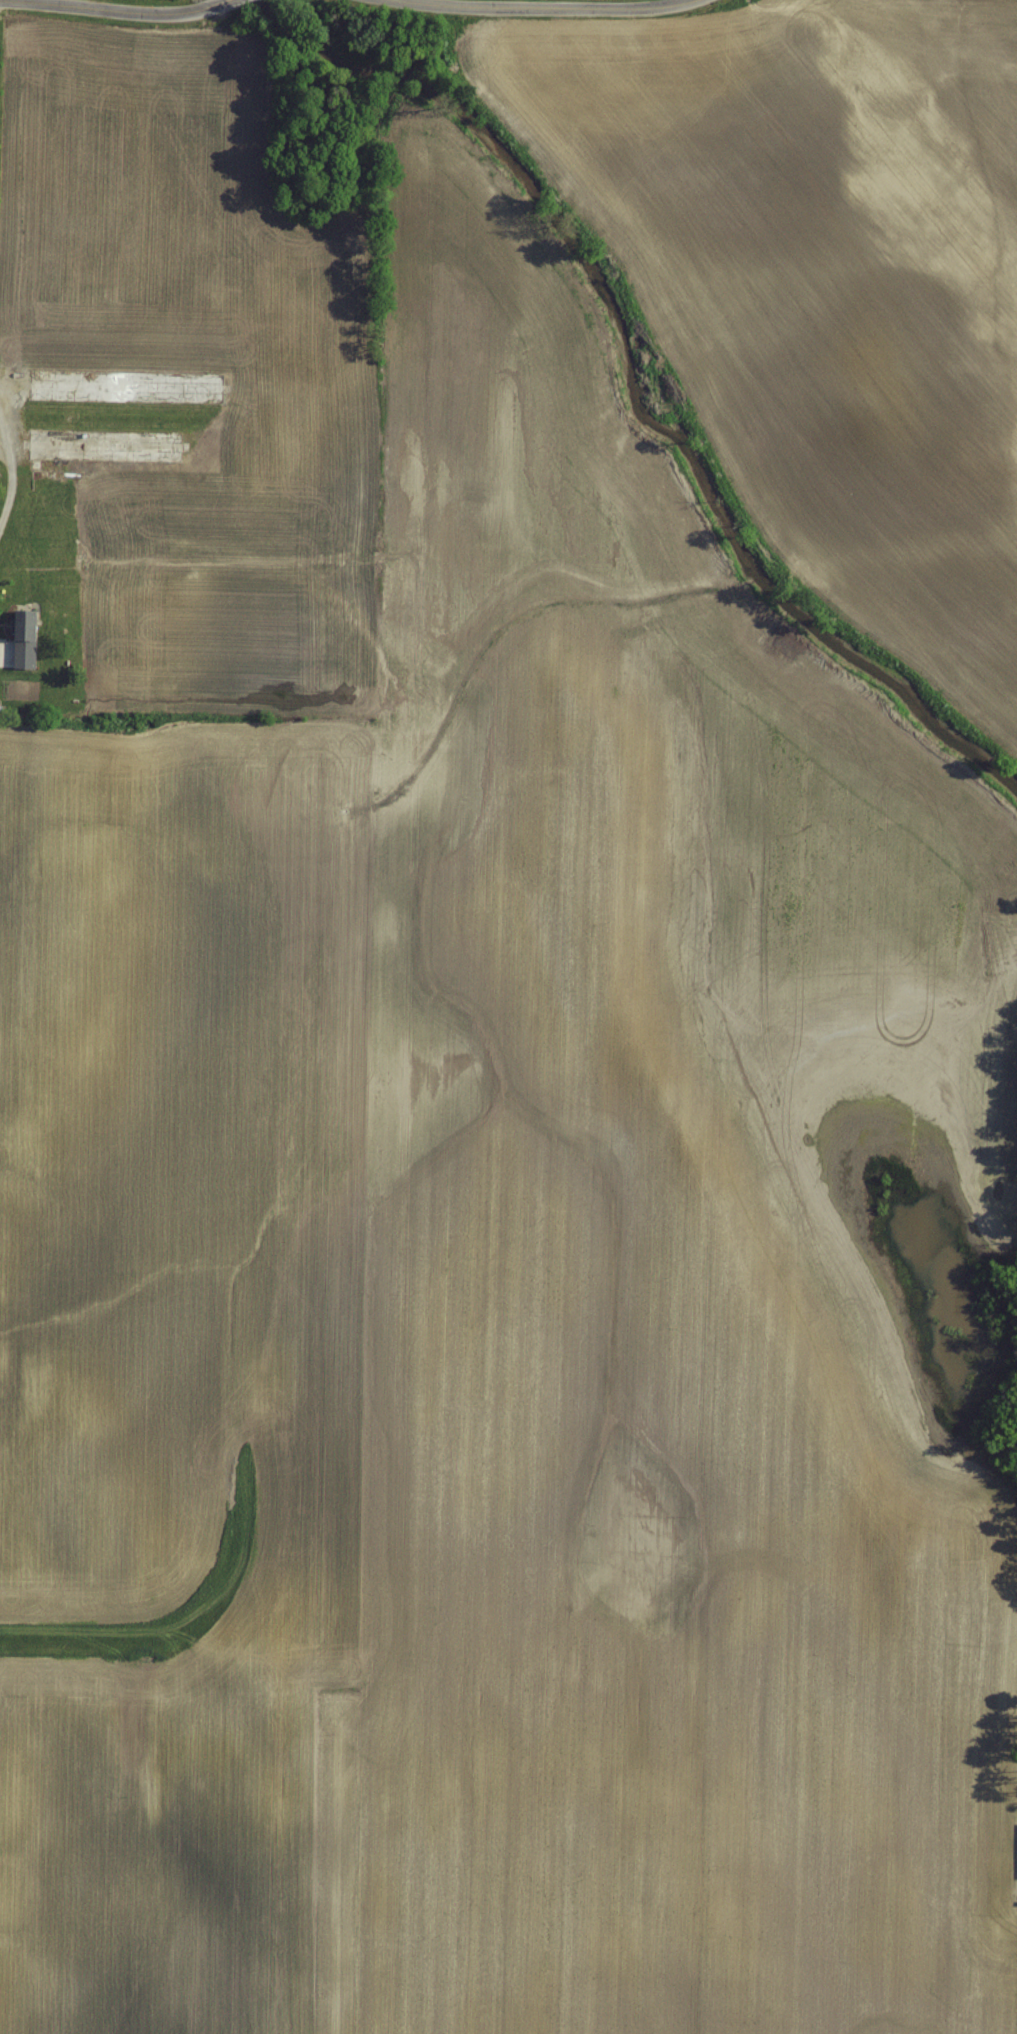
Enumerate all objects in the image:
road: (538, 10)
road: (115, 13)
road: (2, 453)
road: (9, 478)

